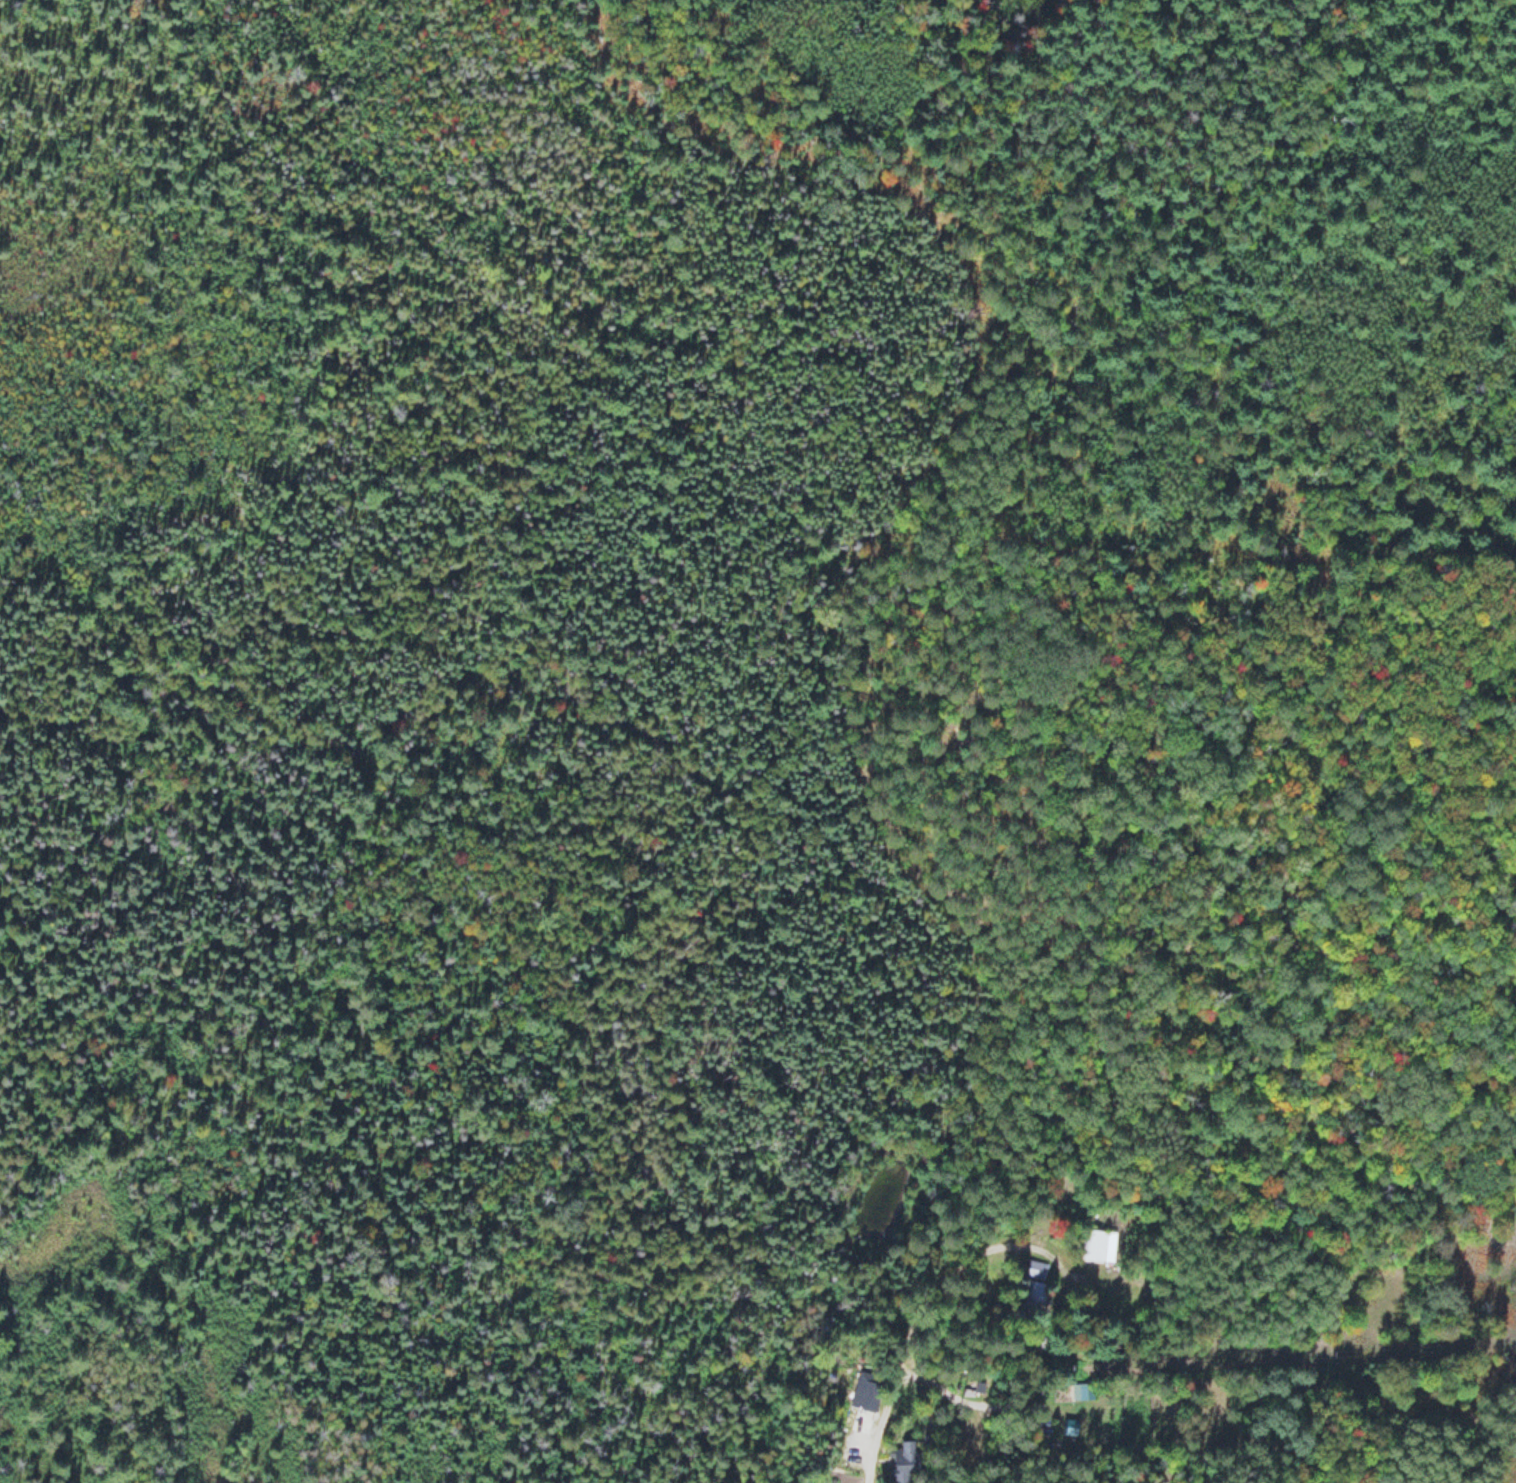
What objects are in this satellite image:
building: (1097, 1246)
building: (1035, 1288)
road: (904, 1311)
building: (868, 1396)
building: (908, 1462)

